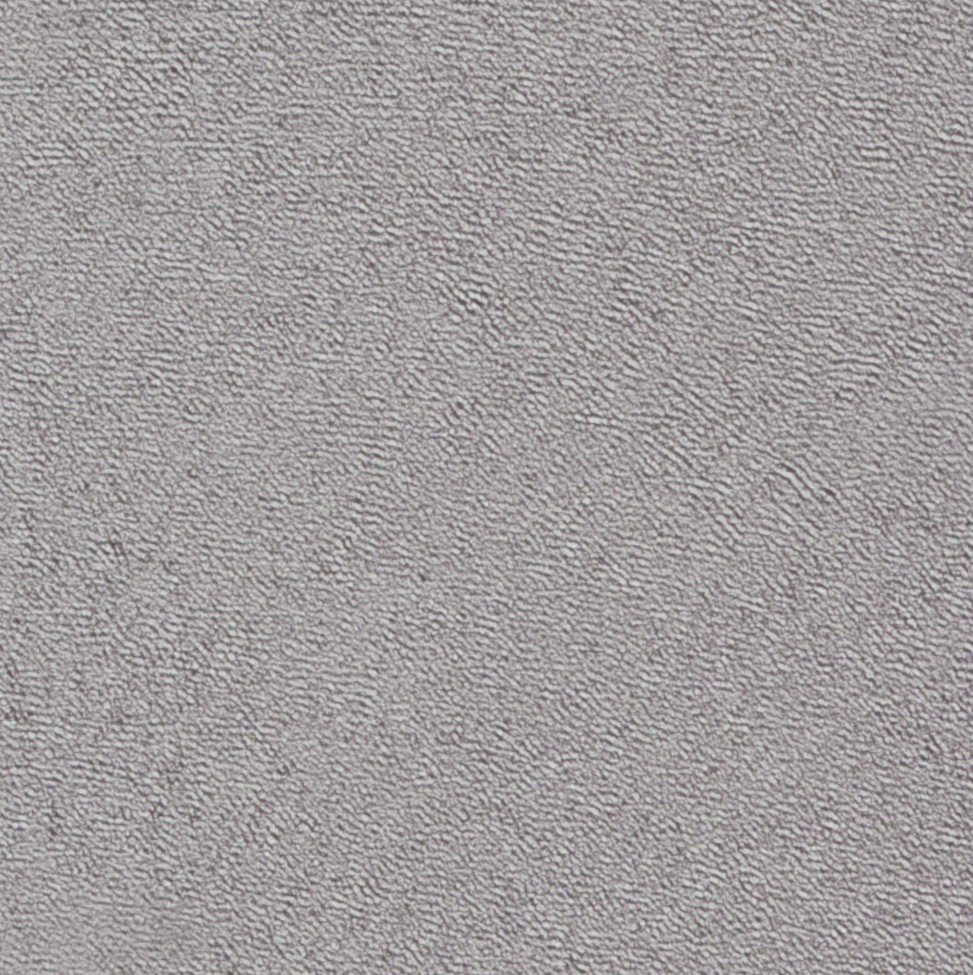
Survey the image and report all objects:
river: (667, 487)

